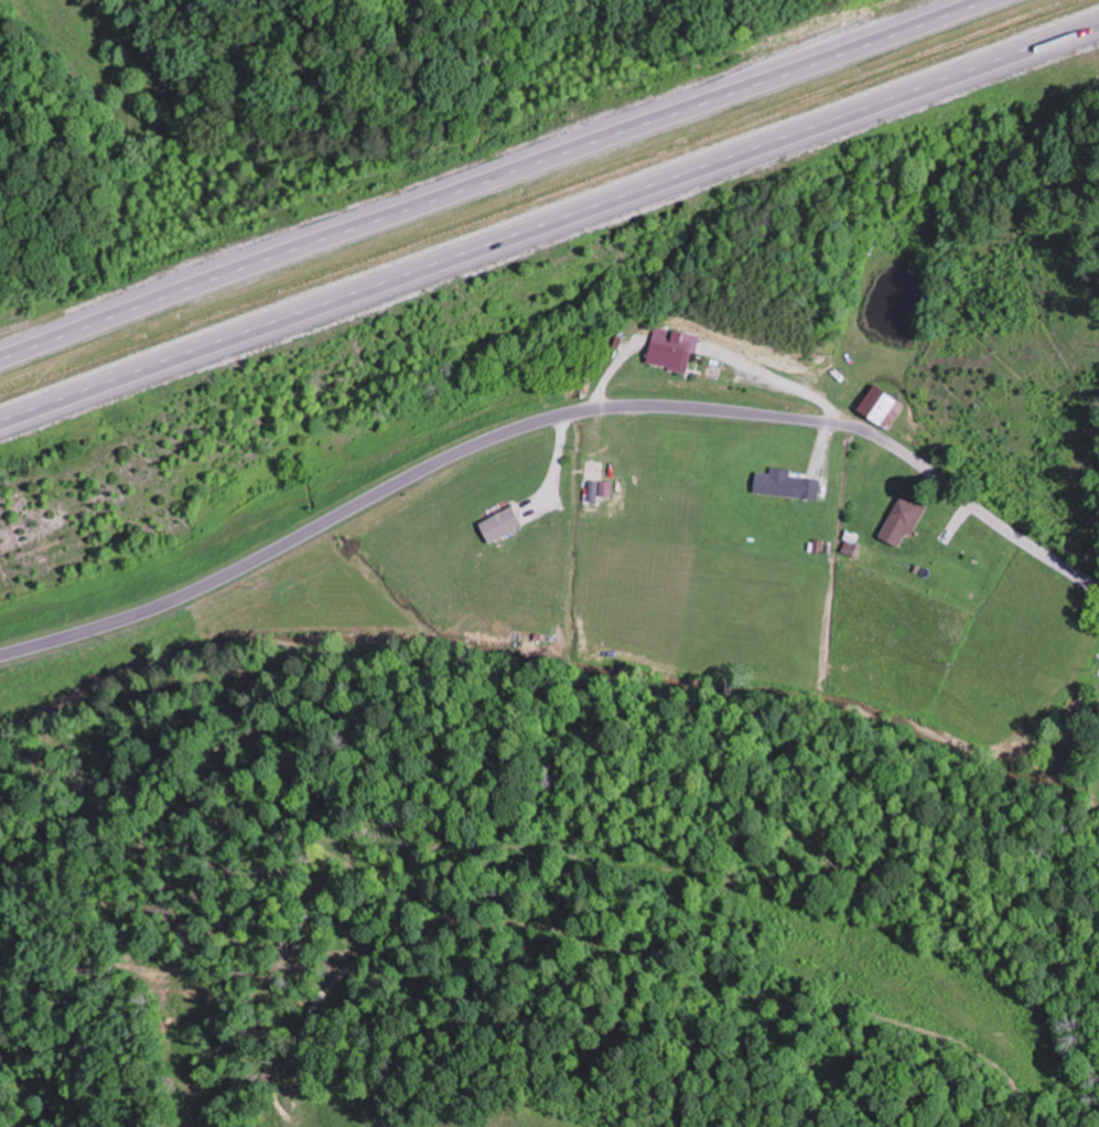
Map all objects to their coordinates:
road: (491, 176)
road: (549, 227)
building: (670, 351)
building: (882, 405)
road: (550, 418)
building: (788, 483)
building: (903, 519)

